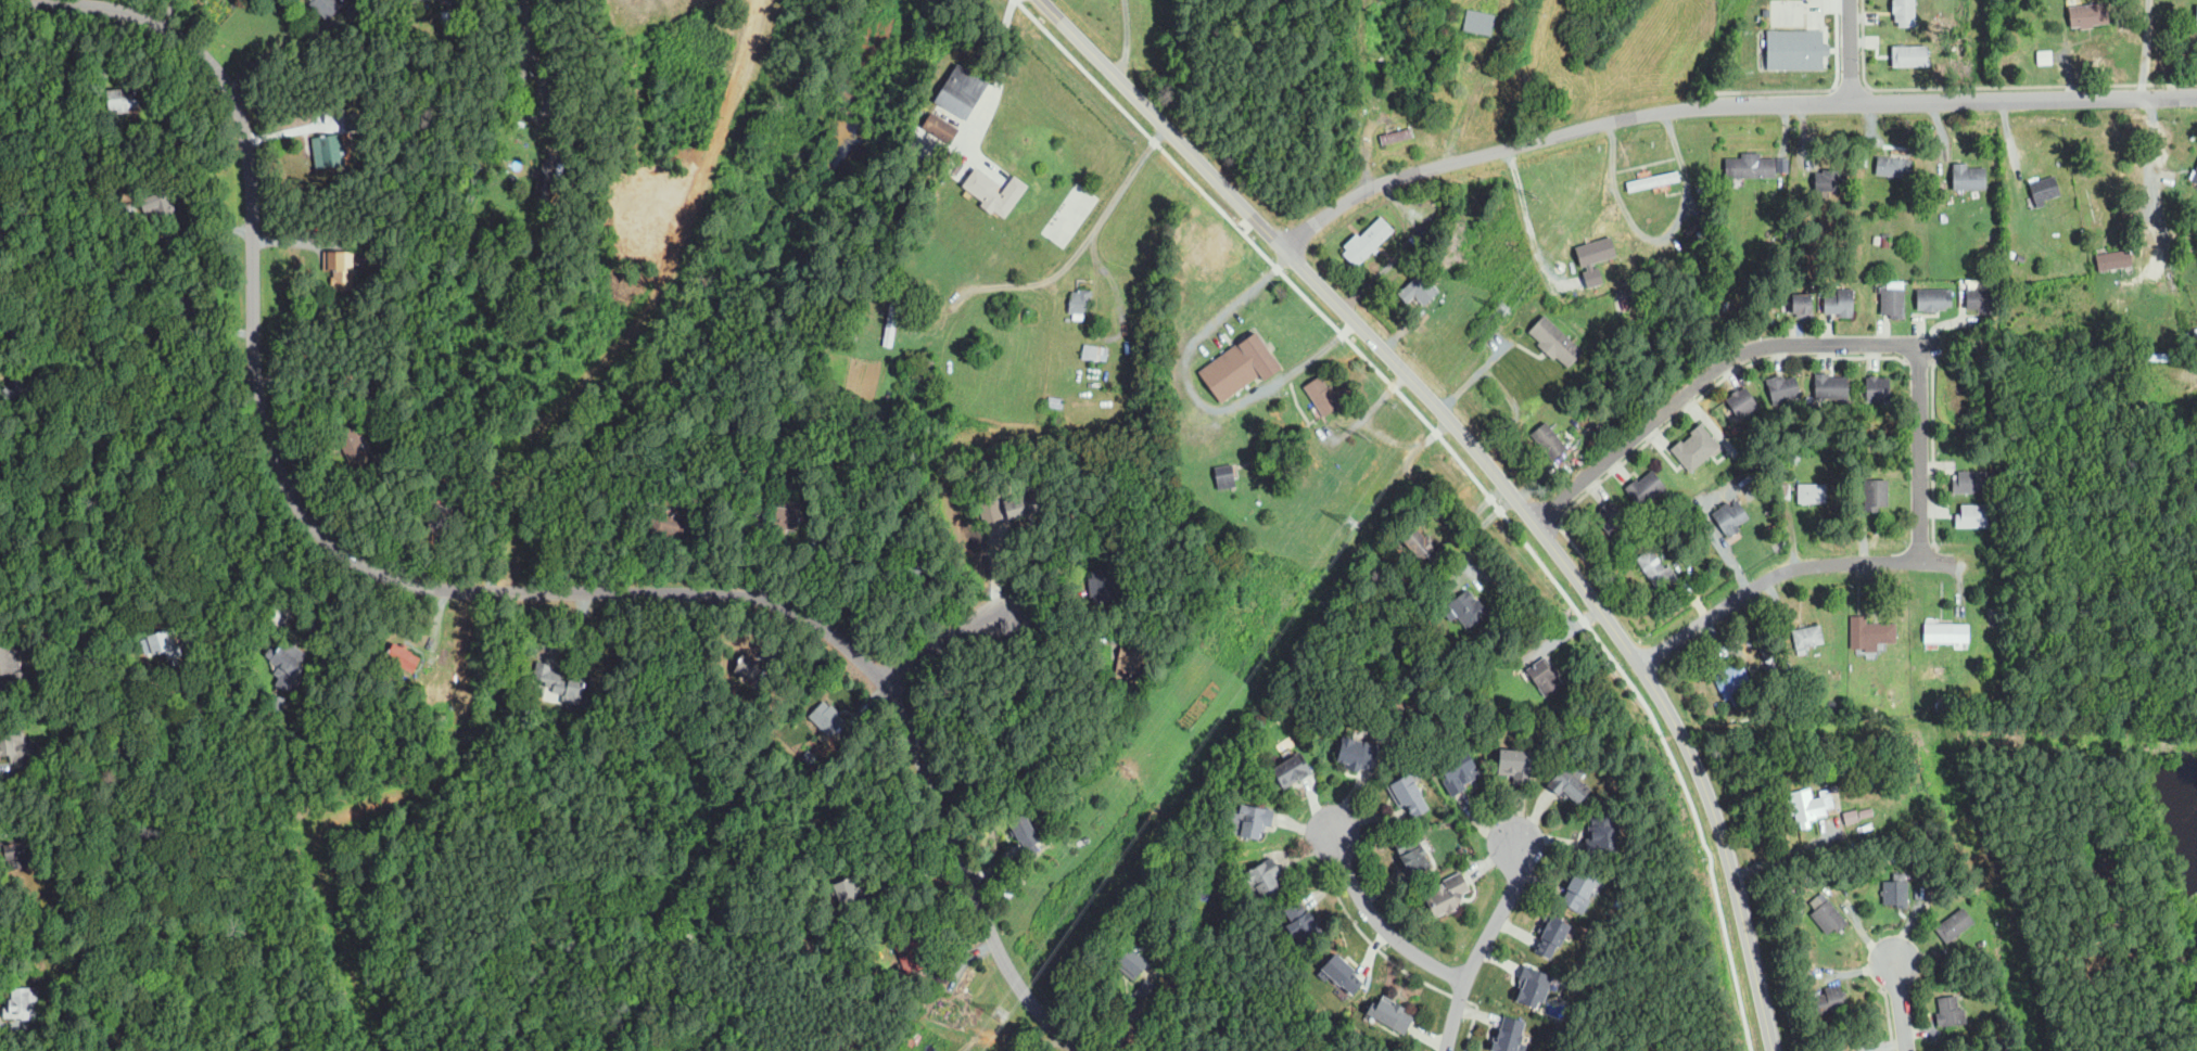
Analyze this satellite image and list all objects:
building: (472, 5)
building: (325, 7)
building: (2192, 7)
building: (1905, 11)
building: (2087, 15)
building: (2196, 15)
building: (456, 16)
building: (442, 17)
building: (1478, 17)
road: (530, 27)
building: (1792, 47)
road: (2145, 48)
road: (1846, 50)
building: (1906, 52)
road: (267, 53)
building: (2043, 55)
road: (998, 76)
building: (782, 80)
building: (358, 89)
building: (963, 92)
building: (123, 100)
building: (1346, 100)
road: (1725, 104)
building: (353, 121)
building: (458, 123)
building: (1396, 136)
building: (2193, 138)
building: (1778, 140)
building: (328, 151)
building: (2058, 164)
building: (1751, 166)
building: (1893, 167)
road: (2157, 172)
building: (1965, 174)
building: (2194, 175)
building: (546, 179)
building: (1831, 180)
building: (1652, 181)
building: (1435, 189)
building: (2044, 190)
building: (994, 192)
building: (1421, 192)
building: (1774, 195)
building: (1866, 201)
building: (160, 203)
building: (128, 209)
building: (1806, 217)
road: (1523, 219)
building: (1690, 229)
road: (1410, 238)
building: (1790, 238)
road: (1661, 239)
building: (1696, 239)
road: (1081, 241)
building: (1367, 242)
building: (376, 246)
road: (2, 258)
building: (2020, 258)
building: (2113, 259)
building: (340, 269)
building: (1420, 290)
road: (1353, 298)
building: (1932, 298)
building: (1892, 300)
building: (1979, 300)
building: (1839, 303)
building: (1078, 304)
building: (1624, 305)
building: (1800, 306)
power tower: (1502, 308)
building: (185, 309)
building: (861, 310)
building: (1068, 319)
building: (891, 323)
building: (2195, 332)
building: (1404, 337)
building: (188, 341)
building: (1522, 343)
building: (1554, 343)
building: (1095, 355)
building: (2158, 356)
building: (1237, 368)
building: (924, 370)
road: (1709, 370)
road: (1474, 374)
building: (1781, 387)
building: (1877, 387)
building: (15, 389)
building: (1832, 389)
building: (1322, 395)
road: (1196, 396)
building: (373, 397)
building: (1055, 401)
building: (1742, 405)
road: (1367, 413)
road: (1516, 413)
building: (1549, 440)
building: (1702, 443)
building: (1303, 445)
building: (353, 447)
building: (1688, 454)
building: (1796, 456)
road: (1923, 456)
road: (1469, 473)
road: (1490, 475)
building: (1224, 477)
building: (1972, 480)
building: (1647, 490)
building: (1782, 491)
building: (1812, 494)
building: (1876, 495)
building: (1031, 504)
building: (986, 510)
building: (699, 514)
building: (787, 515)
building: (1972, 515)
building: (1729, 517)
building: (1678, 518)
building: (1610, 520)
building: (440, 521)
building: (668, 525)
building: (1666, 525)
power tower: (1348, 527)
building: (1898, 533)
building: (1417, 542)
road: (995, 564)
building: (915, 567)
road: (1787, 567)
building: (1655, 569)
road: (243, 571)
building: (1104, 586)
road: (459, 590)
building: (45, 606)
building: (1466, 608)
road: (1058, 631)
building: (1870, 633)
building: (1947, 633)
building: (1807, 636)
road: (942, 640)
building: (164, 644)
building: (1767, 656)
building: (403, 657)
building: (12, 663)
building: (1127, 663)
building: (288, 665)
building: (749, 667)
building: (1377, 667)
building: (1545, 676)
building: (561, 683)
building: (1734, 684)
building: (1485, 688)
building: (417, 692)
building: (1803, 695)
building: (1770, 696)
building: (1015, 698)
building: (620, 703)
building: (277, 704)
building: (1716, 706)
building: (1941, 706)
building: (1785, 709)
building: (1852, 710)
building: (1875, 710)
building: (610, 718)
building: (827, 718)
building: (11, 740)
building: (1356, 755)
building: (808, 758)
building: (1514, 765)
building: (1291, 770)
building: (1459, 772)
building: (1569, 785)
building: (1408, 794)
building: (1015, 802)
building: (1803, 806)
building: (1255, 821)
building: (1026, 829)
building: (1853, 834)
building: (1601, 836)
building: (15, 854)
building: (1412, 855)
building: (1918, 856)
building: (2101, 870)
building: (1265, 879)
building: (1578, 890)
building: (1896, 892)
building: (848, 894)
building: (1446, 894)
building: (1800, 913)
building: (1241, 914)
building: (1829, 918)
building: (1300, 923)
road: (1381, 925)
building: (1955, 925)
building: (2164, 928)
building: (1551, 936)
road: (1481, 946)
building: (1982, 950)
building: (910, 952)
road: (1387, 958)
building: (1130, 962)
building: (874, 973)
building: (1341, 973)
building: (1533, 987)
building: (1144, 989)
building: (1985, 994)
building: (1829, 1001)
building: (21, 1003)
road: (1901, 1005)
building: (1951, 1012)
power tower: (1000, 1015)
building: (1390, 1015)
building: (1815, 1030)
building: (1510, 1036)

